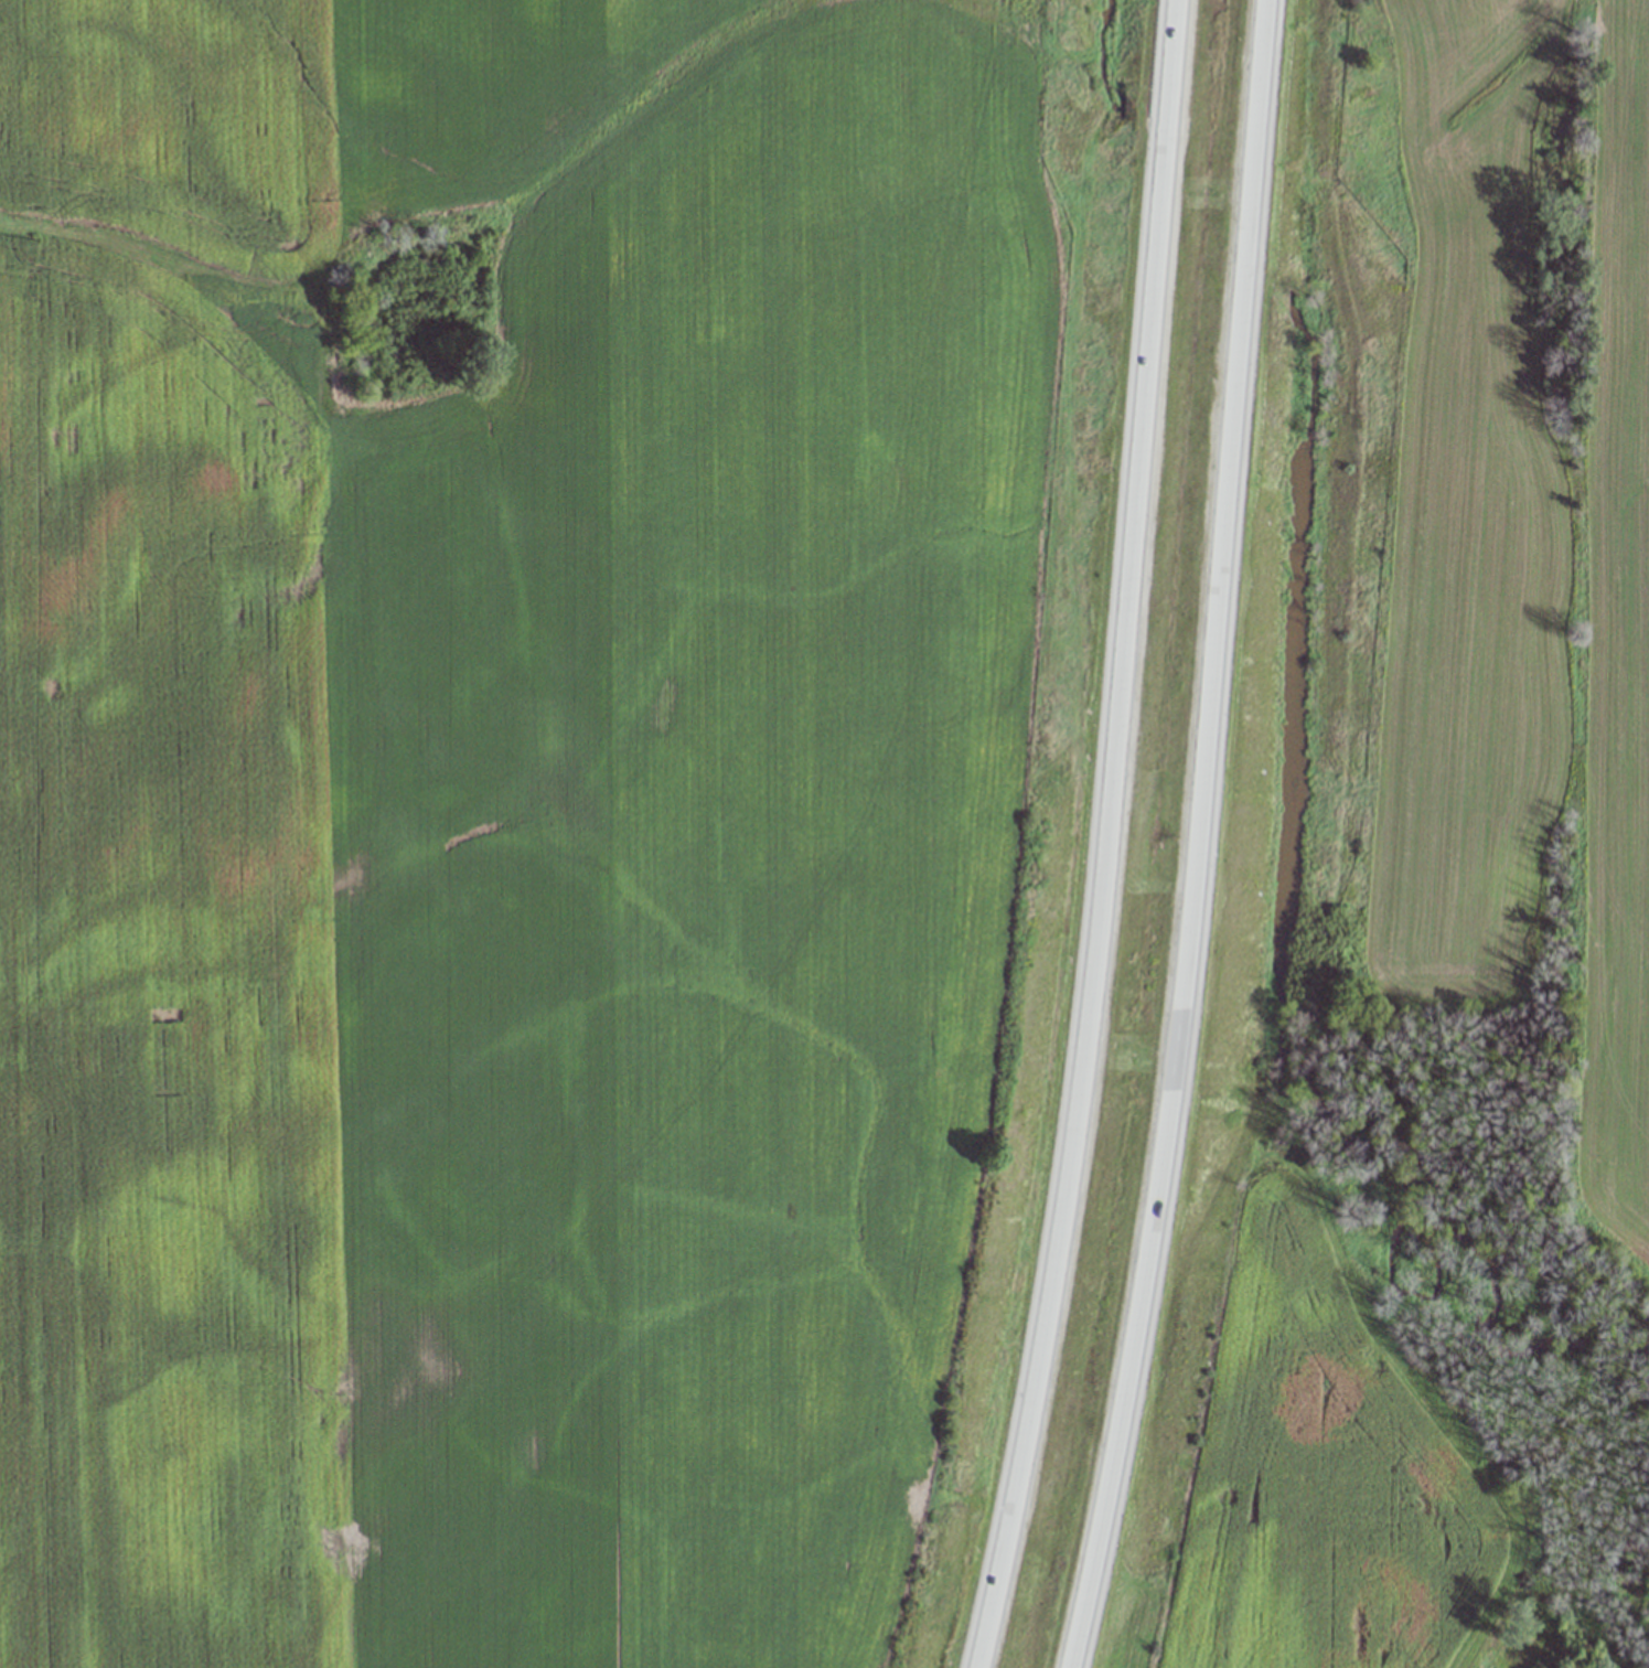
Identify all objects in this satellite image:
road: (1101, 837)
road: (1198, 837)

